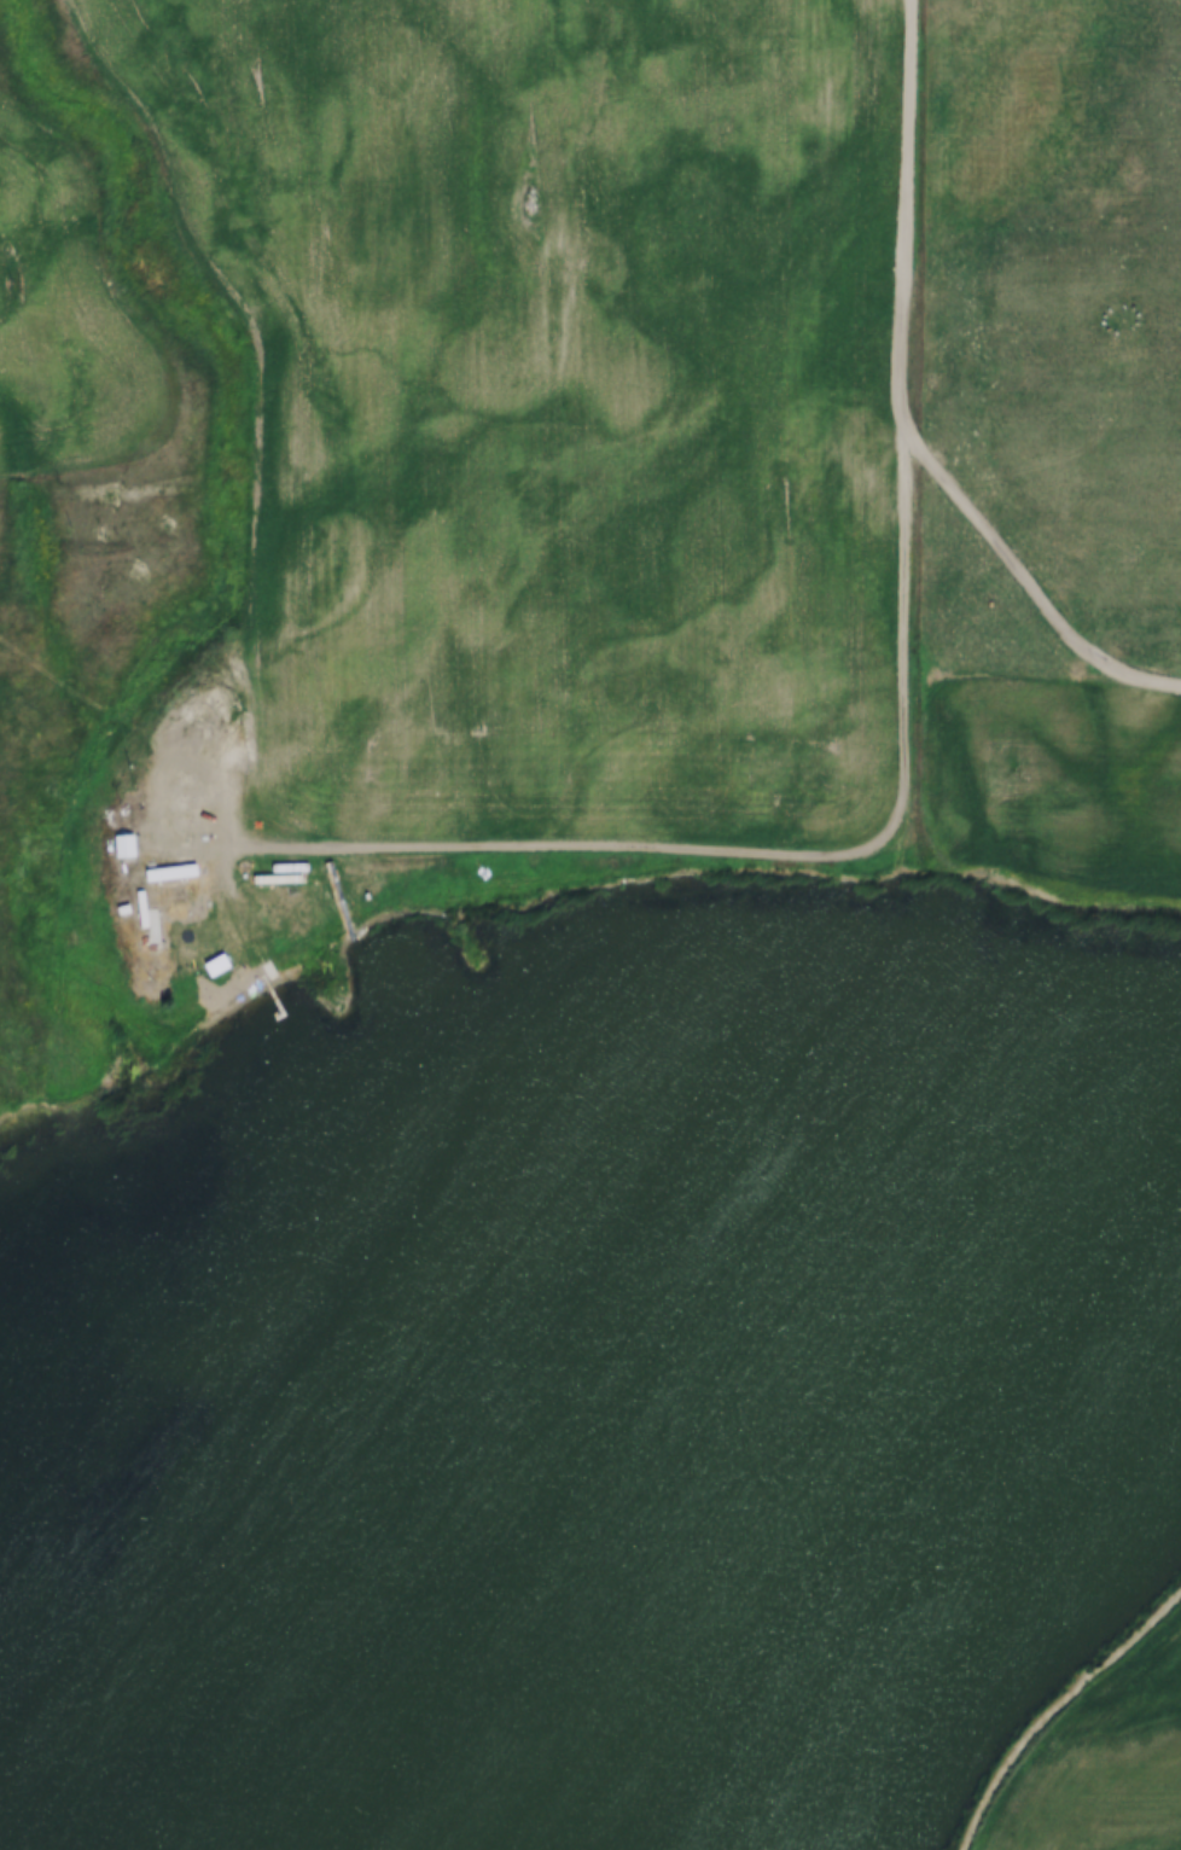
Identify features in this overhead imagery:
road: (908, 406)

